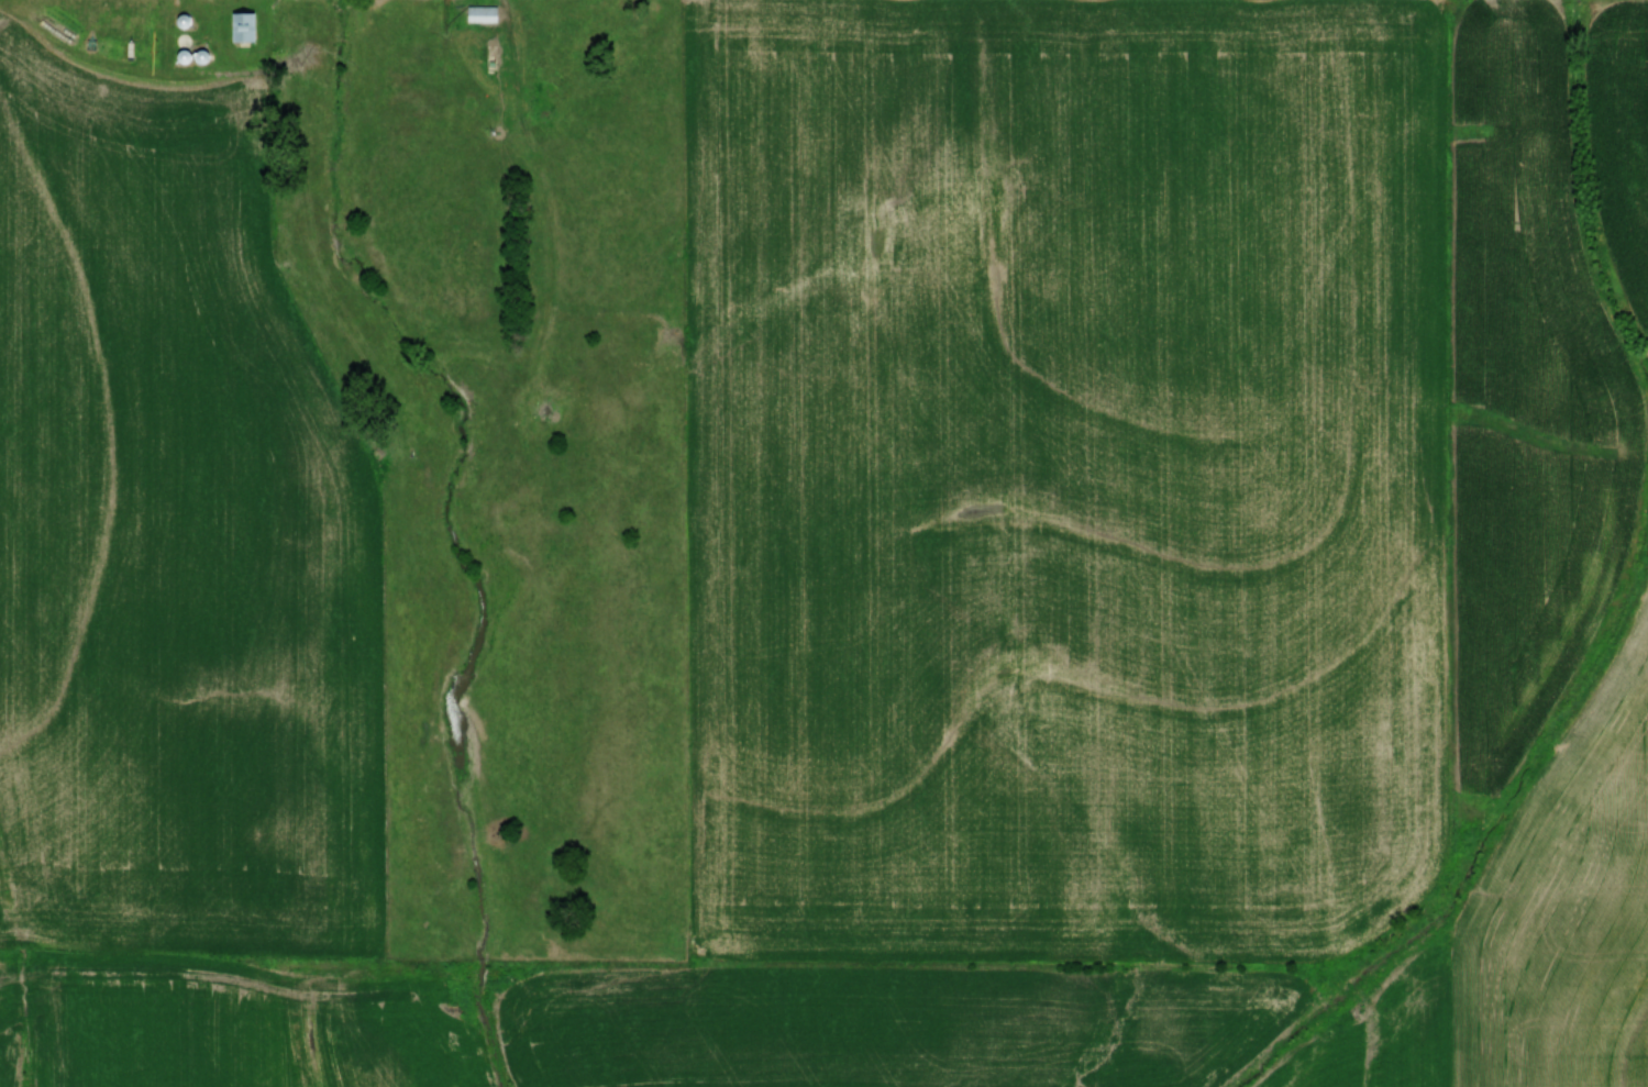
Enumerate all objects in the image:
building: (479, 12)
building: (240, 24)

